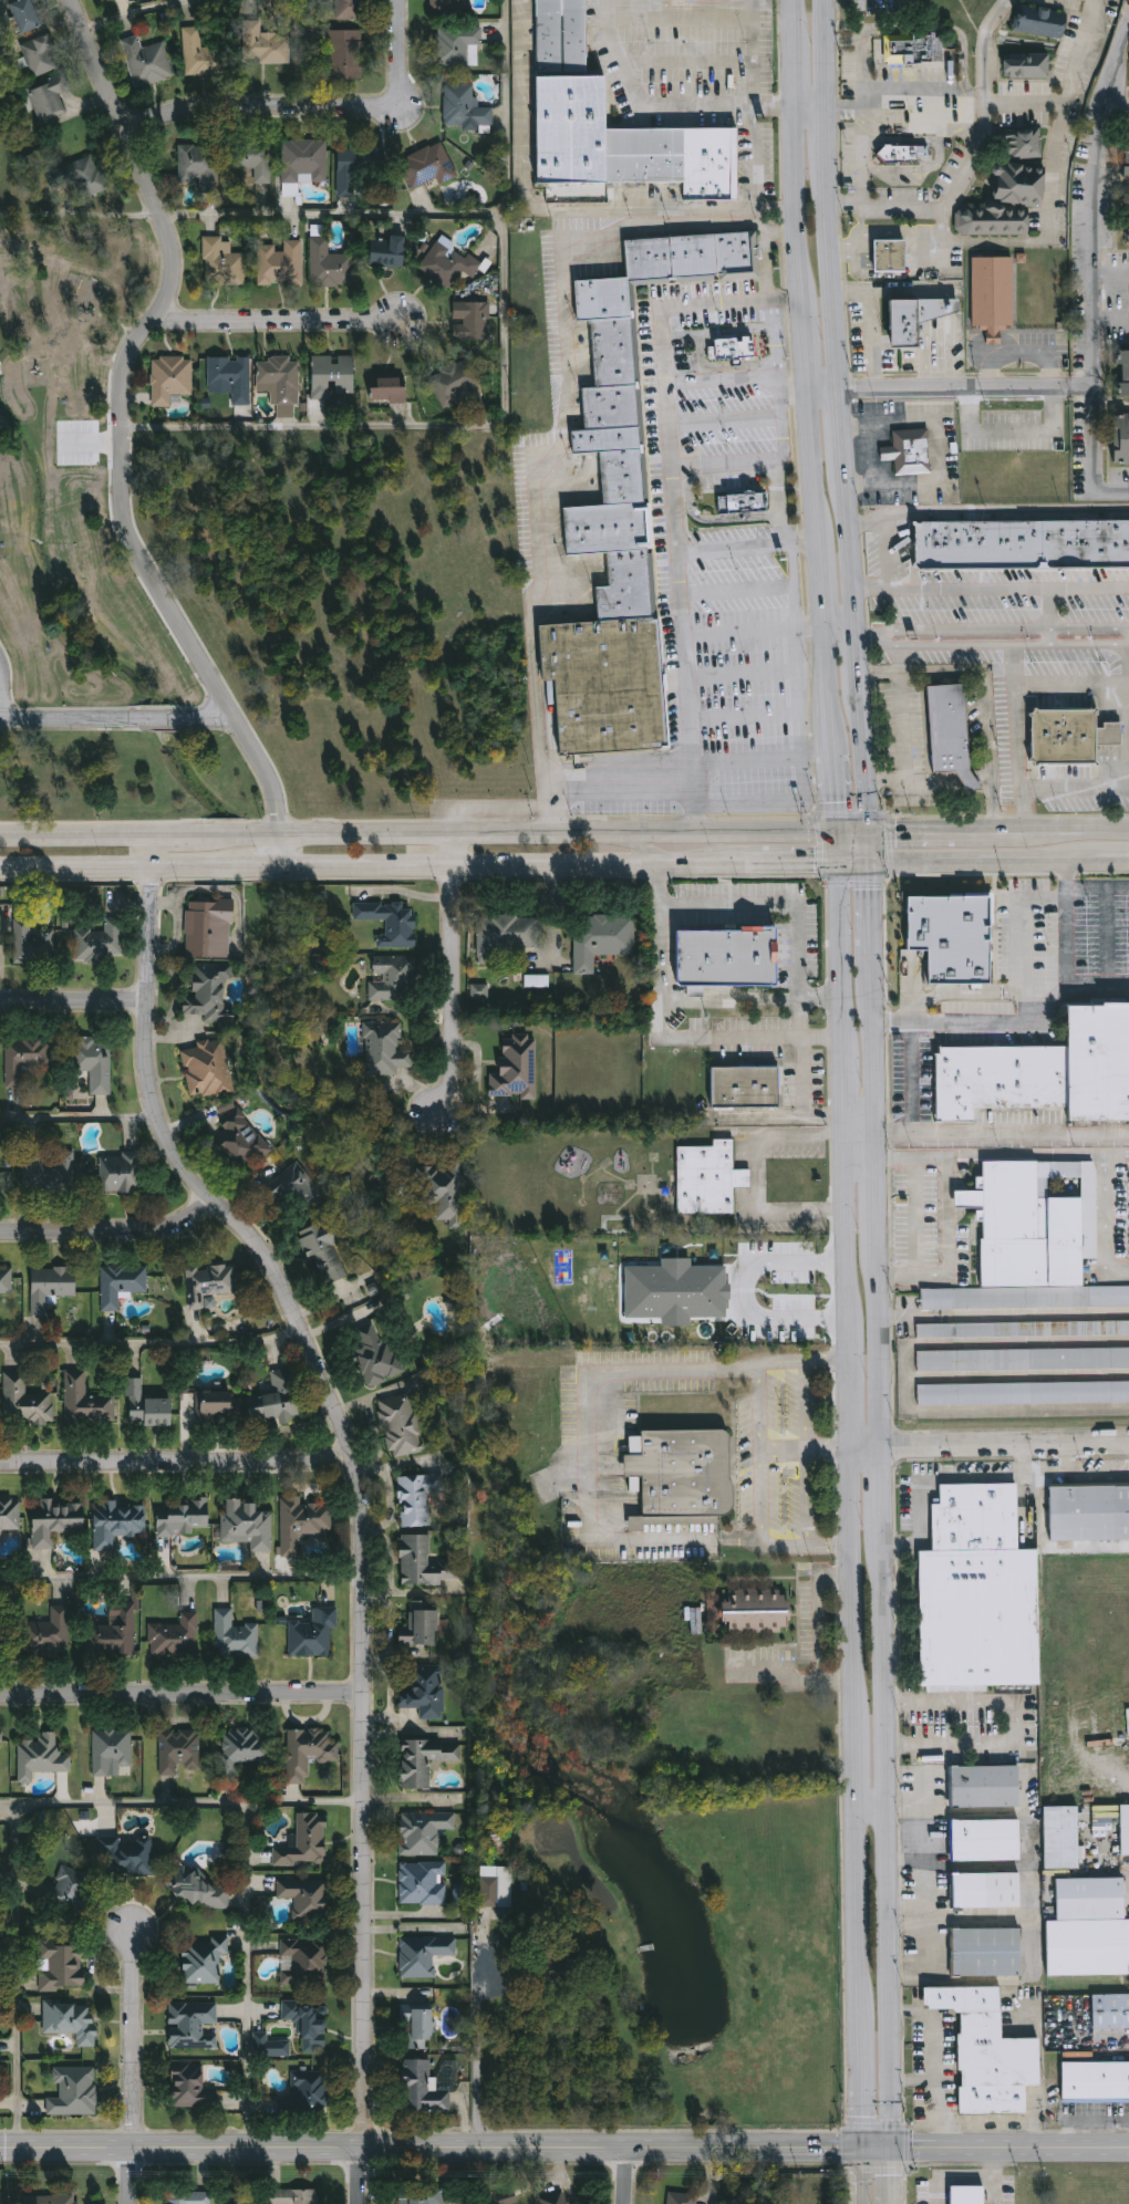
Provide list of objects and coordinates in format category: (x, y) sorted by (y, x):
building: (446, 4)
building: (346, 9)
road: (136, 11)
building: (24, 15)
road: (798, 21)
building: (1039, 21)
road: (916, 25)
road: (987, 43)
building: (263, 44)
building: (455, 46)
building: (911, 48)
road: (752, 51)
road: (829, 52)
building: (201, 54)
building: (344, 54)
building: (40, 55)
road: (687, 60)
building: (148, 64)
building: (1026, 65)
road: (799, 73)
road: (913, 87)
building: (48, 97)
building: (570, 102)
road: (666, 102)
road: (815, 104)
building: (464, 105)
road: (846, 105)
road: (311, 111)
road: (1116, 121)
road: (921, 129)
road: (831, 139)
building: (1024, 146)
road: (862, 153)
building: (902, 155)
building: (1127, 158)
building: (253, 160)
building: (303, 160)
building: (197, 166)
building: (427, 166)
building: (356, 167)
road: (918, 168)
building: (77, 176)
park: (15, 178)
road: (755, 179)
road: (1053, 184)
road: (956, 189)
road: (849, 201)
building: (1004, 202)
road: (804, 205)
road: (539, 209)
road: (901, 231)
building: (1128, 233)
road: (849, 243)
building: (890, 254)
building: (389, 256)
building: (691, 256)
building: (453, 261)
building: (220, 262)
building: (280, 262)
road: (767, 262)
building: (329, 264)
road: (1110, 273)
road: (838, 280)
road: (1091, 282)
building: (992, 295)
building: (603, 297)
building: (470, 320)
parking lot: (717, 320)
building: (920, 320)
road: (1110, 320)
road: (276, 324)
road: (774, 340)
road: (810, 344)
road: (507, 345)
building: (731, 346)
building: (614, 350)
building: (1125, 373)
building: (332, 375)
building: (231, 376)
building: (172, 378)
building: (278, 378)
road: (721, 380)
road: (795, 381)
building: (449, 382)
road: (828, 383)
road: (956, 385)
road: (1081, 385)
building: (387, 391)
road: (566, 396)
building: (611, 404)
road: (1059, 406)
road: (725, 417)
parking lot: (727, 420)
road: (846, 427)
road: (994, 428)
road: (117, 434)
building: (607, 437)
building: (1121, 439)
park: (68, 448)
road: (938, 448)
building: (909, 451)
road: (775, 460)
road: (672, 461)
road: (817, 464)
park: (71, 467)
building: (623, 475)
road: (724, 476)
building: (740, 500)
road: (988, 511)
parking lot: (662, 526)
building: (607, 527)
building: (1021, 541)
road: (750, 545)
road: (853, 550)
building: (626, 585)
road: (825, 585)
road: (992, 588)
road: (1052, 615)
road: (805, 626)
road: (993, 627)
road: (842, 628)
road: (735, 632)
road: (935, 643)
road: (1071, 644)
road: (797, 648)
road: (859, 658)
parking lot: (746, 661)
road: (954, 670)
road: (895, 673)
road: (829, 677)
building: (605, 682)
road: (3, 698)
road: (118, 721)
building: (947, 729)
building: (1068, 736)
road: (1021, 740)
road: (833, 741)
road: (764, 758)
road: (868, 758)
road: (623, 769)
road: (1076, 789)
road: (837, 792)
road: (696, 798)
road: (553, 803)
road: (776, 805)
parking lot: (626, 810)
traffic signals: (839, 832)
road: (856, 832)
road: (518, 833)
traffic signals: (873, 833)
road: (77, 834)
road: (176, 834)
road: (934, 836)
road: (1077, 839)
road: (1011, 840)
road: (840, 845)
road: (635, 846)
road: (874, 846)
road: (778, 860)
traffic signals: (841, 860)
road: (859, 860)
traffic signals: (877, 860)
road: (985, 860)
road: (1112, 861)
road: (499, 862)
road: (258, 864)
road: (116, 865)
road: (1081, 890)
road: (877, 915)
building: (392, 922)
building: (209, 928)
building: (509, 934)
building: (950, 934)
building: (602, 940)
building: (101, 943)
building: (33, 944)
building: (729, 957)
road: (843, 959)
road: (798, 963)
road: (1067, 966)
building: (394, 978)
road: (454, 980)
building: (536, 980)
building: (478, 991)
building: (211, 996)
road: (752, 999)
road: (74, 1005)
road: (1028, 1011)
road: (667, 1035)
building: (385, 1049)
road: (879, 1049)
building: (29, 1062)
building: (94, 1062)
building: (1045, 1064)
building: (517, 1069)
building: (208, 1070)
road: (913, 1083)
building: (747, 1087)
road: (846, 1094)
road: (77, 1117)
road: (863, 1130)
road: (1004, 1130)
road: (805, 1136)
building: (241, 1139)
road: (1012, 1154)
building: (49, 1172)
building: (121, 1174)
road: (755, 1174)
building: (0, 1178)
building: (709, 1179)
road: (959, 1179)
building: (292, 1188)
building: (442, 1191)
road: (881, 1192)
road: (967, 1197)
road: (806, 1208)
road: (1107, 1212)
road: (916, 1215)
road: (960, 1216)
road: (949, 1230)
road: (848, 1234)
building: (1034, 1236)
road: (115, 1240)
building: (327, 1249)
building: (7, 1280)
building: (210, 1283)
building: (123, 1285)
building: (51, 1289)
building: (675, 1291)
building: (1024, 1330)
road: (148, 1331)
road: (882, 1353)
building: (376, 1354)
building: (1023, 1360)
road: (657, 1372)
building: (1023, 1393)
road: (849, 1396)
building: (278, 1400)
building: (87, 1401)
building: (28, 1403)
building: (217, 1406)
building: (147, 1407)
building: (402, 1425)
road: (805, 1446)
road: (1006, 1449)
road: (758, 1452)
road: (868, 1452)
road: (1068, 1459)
road: (355, 1463)
road: (1023, 1464)
road: (178, 1465)
road: (1035, 1473)
building: (685, 1474)
road: (984, 1476)
road: (1087, 1477)
road: (884, 1495)
building: (418, 1498)
building: (1090, 1512)
building: (10, 1514)
road: (922, 1514)
building: (184, 1519)
building: (56, 1521)
building: (118, 1522)
building: (302, 1522)
building: (248, 1525)
road: (629, 1538)
road: (785, 1545)
road: (1049, 1547)
building: (427, 1563)
road: (182, 1574)
road: (852, 1592)
building: (980, 1592)
building: (758, 1612)
road: (820, 1628)
building: (422, 1629)
building: (1, 1634)
building: (314, 1634)
building: (50, 1635)
building: (113, 1635)
building: (174, 1636)
building: (235, 1636)
building: (426, 1692)
road: (183, 1697)
road: (1019, 1724)
building: (1, 1748)
building: (112, 1750)
building: (179, 1750)
building: (244, 1750)
building: (309, 1751)
building: (42, 1757)
building: (426, 1760)
road: (854, 1769)
building: (986, 1787)
road: (183, 1799)
road: (872, 1806)
building: (1126, 1830)
building: (424, 1832)
building: (1063, 1838)
building: (987, 1840)
building: (496, 1841)
building: (302, 1843)
road: (889, 1844)
building: (130, 1857)
road: (908, 1858)
building: (424, 1883)
building: (497, 1886)
building: (71, 1889)
building: (986, 1891)
building: (200, 1892)
building: (458, 1893)
road: (926, 1893)
road: (1029, 1896)
building: (308, 1899)
road: (909, 1907)
road: (857, 1910)
building: (1090, 1928)
building: (987, 1953)
building: (424, 1956)
building: (204, 1961)
building: (304, 1963)
building: (62, 1967)
building: (563, 1972)
road: (250, 1974)
road: (18, 1975)
building: (1111, 2011)
road: (858, 2017)
building: (72, 2020)
building: (309, 2024)
building: (194, 2026)
building: (421, 2029)
building: (272, 2047)
road: (478, 2052)
building: (990, 2052)
road: (134, 2067)
building: (1096, 2082)
road: (858, 2087)
building: (190, 2088)
building: (310, 2090)
building: (422, 2090)
building: (74, 2091)
road: (563, 2151)
traffic signals: (858, 2151)
traffic signals: (892, 2151)
road: (360, 2176)
road: (624, 2177)
road: (858, 2177)
road: (892, 2177)
road: (995, 2177)
building: (422, 2195)
building: (969, 2195)
building: (506, 2196)
building: (294, 2197)
building: (681, 2197)
building: (189, 2198)
building: (557, 2198)
building: (53, 2200)

